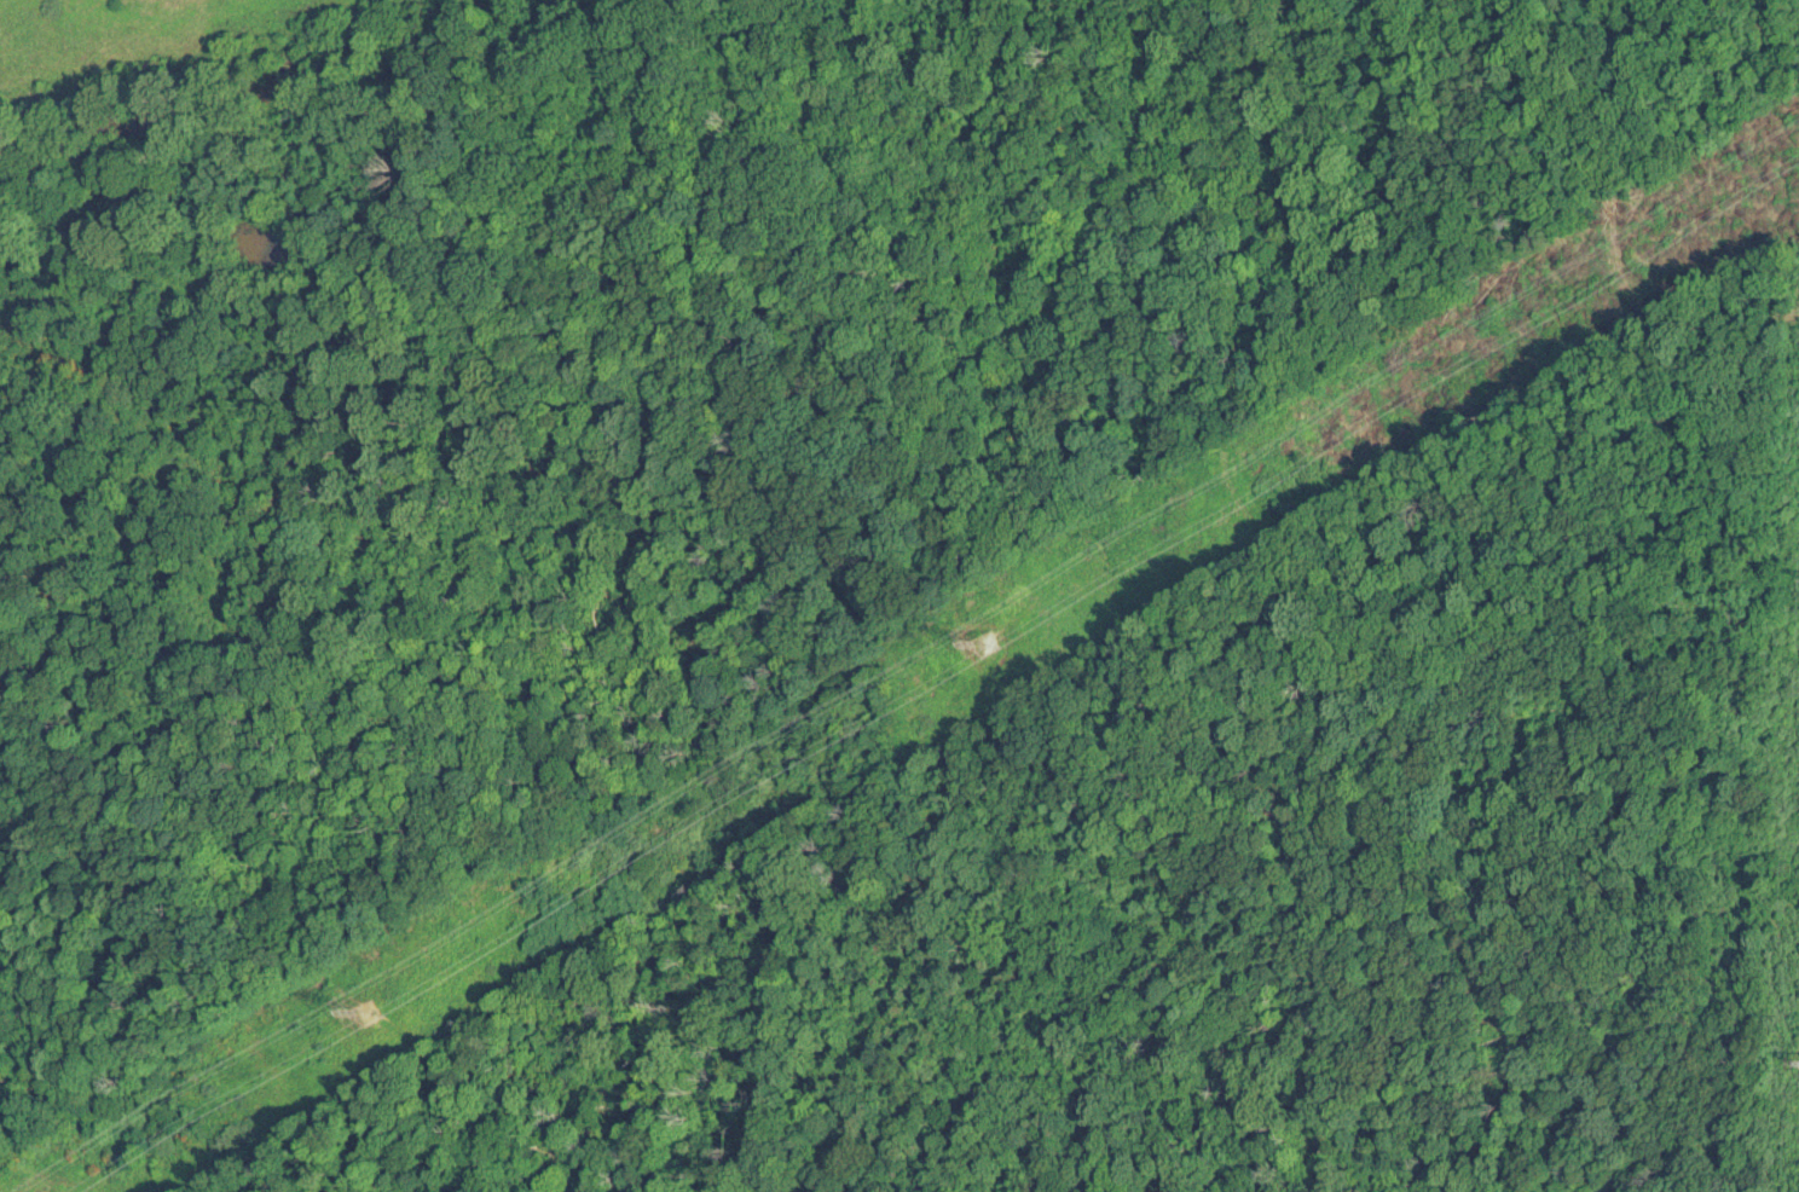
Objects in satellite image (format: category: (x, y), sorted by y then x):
river: (253, 83)
power tower: (997, 641)
power tower: (377, 1009)

